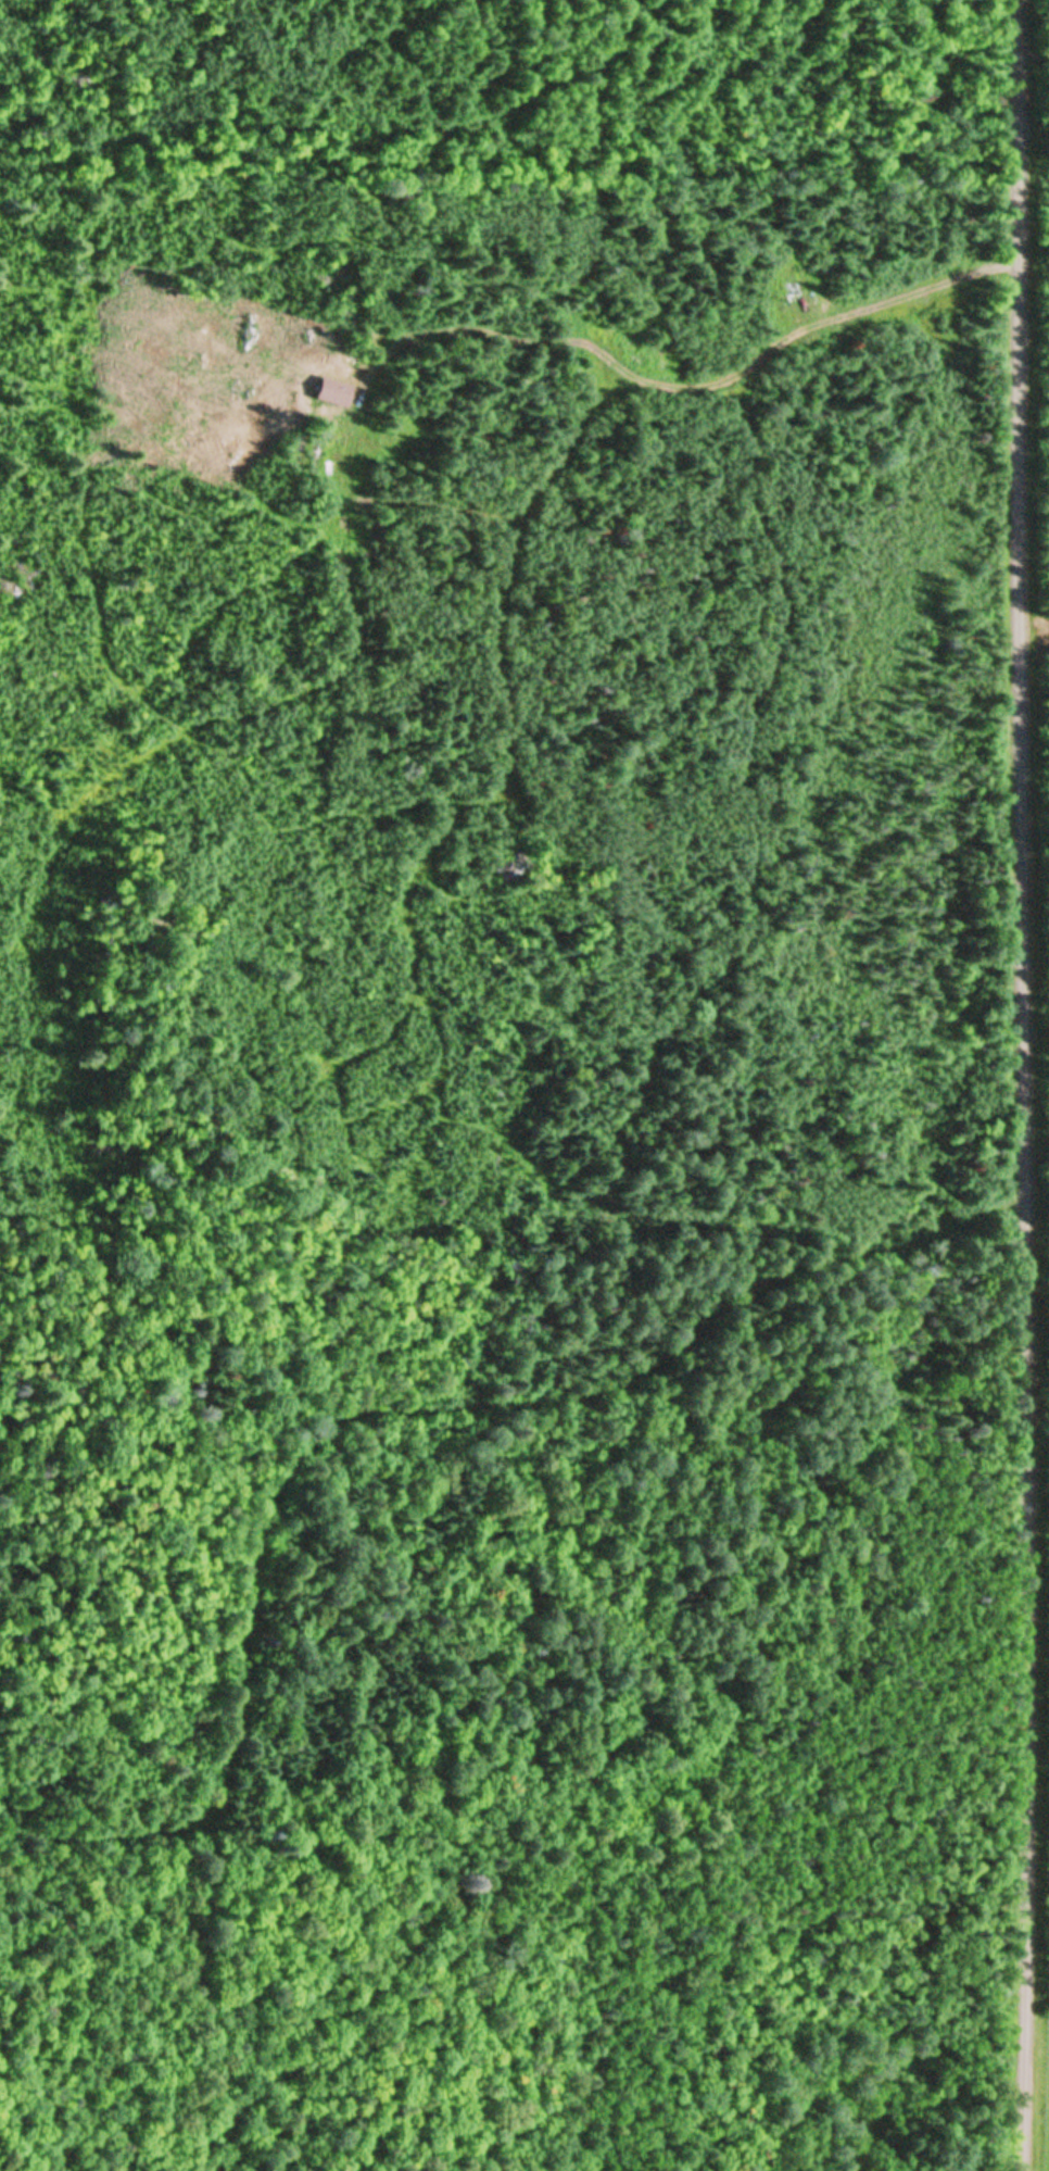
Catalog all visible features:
road: (1022, 1085)

